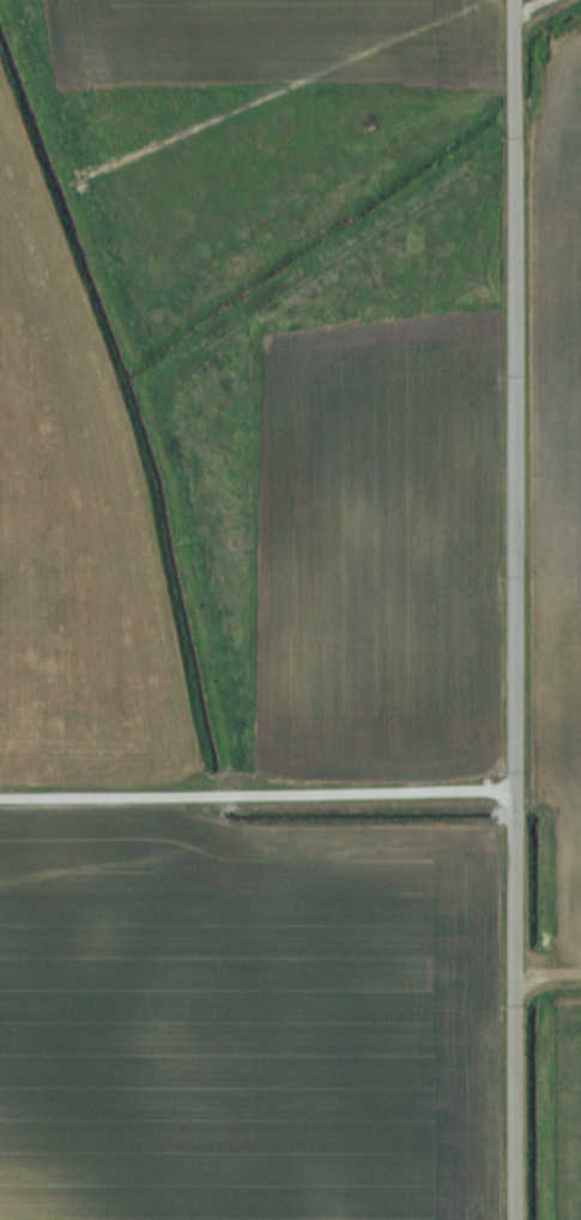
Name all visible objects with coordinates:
road: (519, 609)
road: (259, 792)

